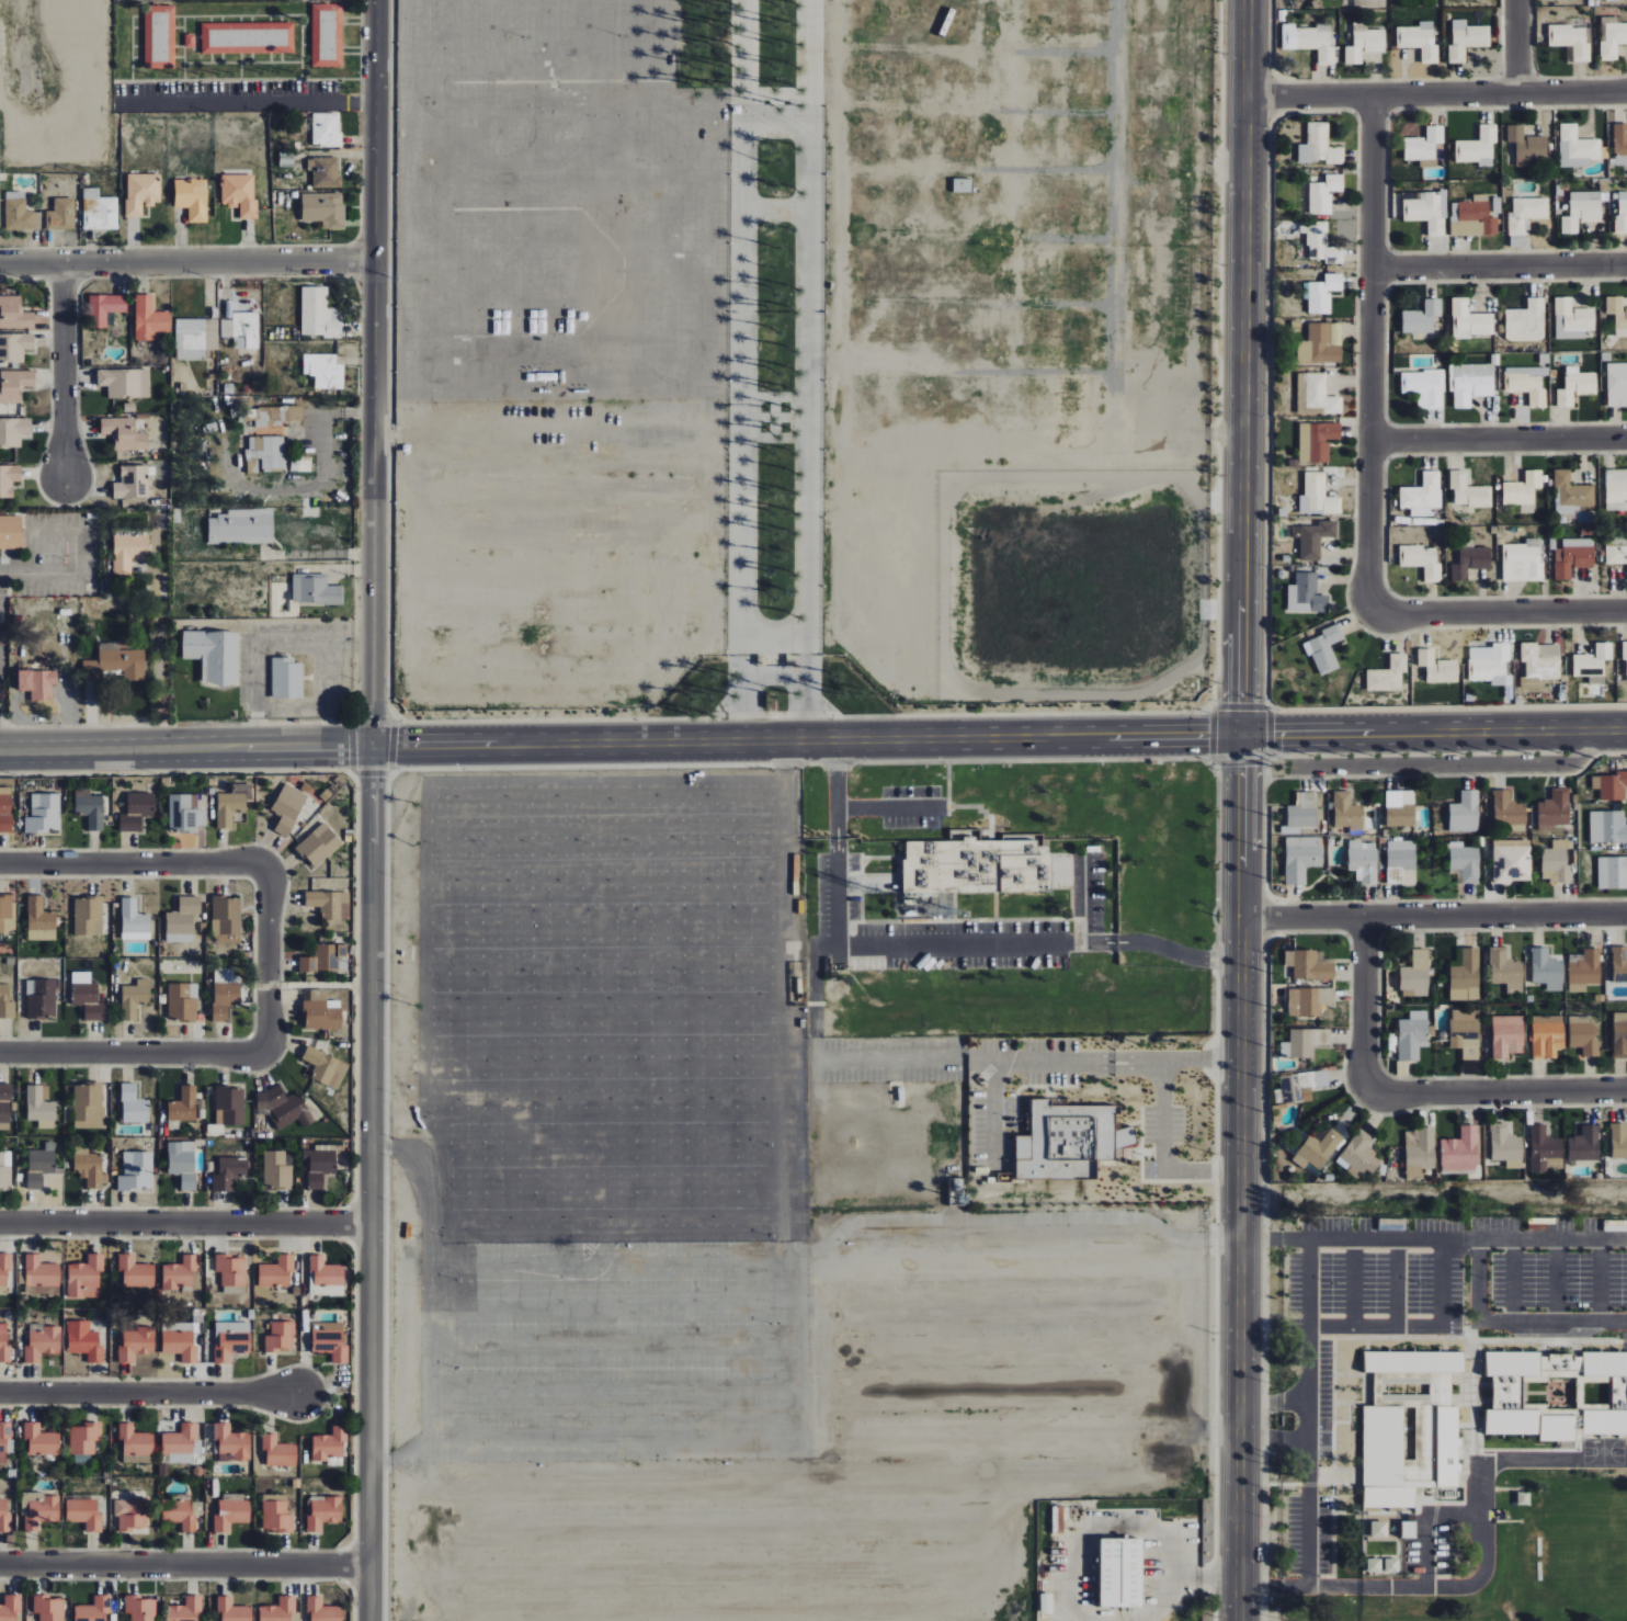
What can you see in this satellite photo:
building: (1612, 0)
building: (327, 35)
building: (159, 36)
building: (248, 37)
building: (1466, 39)
building: (1420, 41)
building: (1571, 41)
building: (1613, 41)
building: (1315, 42)
building: (1364, 43)
road: (1517, 47)
road: (1436, 95)
road: (243, 101)
building: (326, 129)
building: (1620, 144)
building: (1319, 146)
building: (1424, 146)
building: (1527, 146)
building: (1478, 148)
building: (1577, 148)
building: (325, 172)
building: (963, 185)
building: (141, 192)
building: (239, 193)
building: (1324, 193)
building: (192, 197)
building: (325, 209)
building: (99, 211)
building: (1427, 211)
building: (1581, 211)
building: (19, 213)
building: (1622, 213)
building: (60, 214)
building: (1526, 214)
building: (1472, 217)
building: (1321, 242)
road: (186, 259)
road: (1499, 267)
building: (1322, 293)
building: (104, 308)
building: (14, 314)
building: (319, 314)
building: (1617, 315)
building: (1421, 317)
building: (149, 318)
building: (1572, 319)
building: (1469, 320)
building: (1526, 321)
building: (241, 329)
building: (190, 339)
building: (1319, 345)
building: (14, 347)
road: (1370, 353)
road: (1241, 366)
road: (60, 369)
building: (325, 371)
road: (373, 372)
building: (125, 383)
building: (1472, 384)
building: (1527, 384)
building: (14, 385)
building: (1616, 385)
building: (1575, 386)
building: (1424, 387)
building: (275, 418)
road: (319, 421)
building: (13, 431)
road: (516, 432)
building: (124, 433)
road: (1499, 440)
building: (1317, 441)
building: (265, 454)
building: (300, 465)
building: (9, 479)
building: (133, 483)
building: (1616, 489)
building: (1468, 491)
building: (1523, 491)
building: (1570, 494)
building: (1422, 495)
building: (1318, 496)
building: (242, 526)
building: (9, 531)
road: (72, 532)
building: (1315, 539)
building: (1616, 549)
building: (128, 553)
building: (1572, 557)
building: (1422, 560)
building: (1470, 562)
building: (1522, 562)
road: (14, 575)
building: (315, 590)
building: (1306, 594)
road: (1501, 609)
road: (307, 644)
building: (1324, 649)
building: (1625, 650)
building: (214, 655)
building: (1540, 660)
building: (114, 664)
building: (1489, 664)
building: (1593, 664)
building: (1437, 667)
building: (1388, 675)
building: (286, 678)
building: (37, 683)
road: (812, 739)
road: (1442, 762)
building: (1611, 785)
building: (230, 806)
road: (891, 806)
building: (89, 808)
building: (288, 808)
building: (1400, 808)
building: (5, 809)
building: (1507, 809)
building: (1554, 810)
building: (136, 812)
building: (186, 812)
building: (1347, 813)
building: (1465, 813)
building: (44, 814)
building: (1607, 827)
building: (319, 846)
building: (1300, 858)
building: (1363, 860)
building: (1399, 860)
building: (1511, 861)
building: (1557, 862)
building: (1464, 863)
road: (130, 864)
building: (977, 864)
building: (1612, 873)
road: (1082, 895)
building: (329, 904)
building: (7, 915)
building: (88, 916)
road: (1431, 916)
building: (182, 919)
building: (41, 920)
building: (226, 920)
building: (134, 921)
road: (935, 943)
road: (266, 957)
building: (326, 959)
building: (1619, 964)
building: (1309, 965)
building: (1547, 970)
building: (1584, 970)
building: (1505, 971)
building: (1415, 975)
building: (1465, 975)
building: (225, 991)
building: (87, 996)
building: (134, 998)
building: (42, 999)
building: (1309, 1001)
building: (182, 1002)
building: (5, 1004)
road: (1359, 1009)
building: (321, 1012)
building: (1466, 1033)
building: (1584, 1034)
building: (1412, 1035)
building: (1507, 1035)
building: (1619, 1035)
building: (1547, 1036)
building: (1304, 1042)
road: (132, 1052)
road: (1110, 1055)
road: (1122, 1055)
road: (1099, 1058)
road: (1136, 1058)
road: (1190, 1059)
road: (1136, 1065)
building: (322, 1066)
road: (1097, 1066)
road: (1110, 1069)
road: (1123, 1069)
road: (998, 1070)
building: (1298, 1087)
road: (1501, 1090)
building: (89, 1106)
building: (134, 1106)
building: (4, 1107)
building: (41, 1107)
building: (183, 1107)
building: (229, 1107)
building: (284, 1107)
building: (1618, 1141)
building: (1068, 1142)
building: (1584, 1145)
building: (1505, 1146)
road: (1163, 1149)
building: (1317, 1150)
building: (1460, 1150)
building: (1545, 1150)
building: (1419, 1152)
building: (1358, 1155)
building: (182, 1163)
building: (42, 1165)
building: (89, 1167)
building: (5, 1169)
building: (276, 1170)
building: (136, 1171)
building: (229, 1174)
road: (1236, 1177)
road: (368, 1182)
road: (184, 1223)
road: (1431, 1239)
building: (4, 1269)
building: (230, 1270)
building: (136, 1271)
building: (276, 1271)
building: (326, 1271)
building: (41, 1272)
building: (179, 1273)
building: (86, 1277)
road: (1600, 1279)
road: (1478, 1280)
road: (1511, 1280)
road: (1556, 1280)
road: (1441, 1281)
road: (1353, 1282)
road: (1397, 1282)
road: (1467, 1320)
building: (280, 1336)
building: (181, 1339)
building: (230, 1339)
building: (84, 1340)
building: (331, 1340)
building: (43, 1344)
building: (136, 1344)
building: (4, 1346)
parking lot: (618, 1350)
building: (1413, 1361)
building: (1512, 1362)
building: (1605, 1363)
building: (1561, 1365)
building: (1507, 1392)
road: (144, 1395)
road: (1272, 1402)
road: (1307, 1412)
building: (1604, 1421)
building: (1531, 1424)
building: (83, 1438)
building: (4, 1440)
building: (41, 1440)
building: (135, 1440)
building: (231, 1442)
building: (180, 1443)
road: (1272, 1443)
building: (329, 1446)
building: (1447, 1446)
building: (1400, 1447)
building: (277, 1451)
building: (38, 1509)
building: (180, 1511)
building: (84, 1512)
building: (231, 1512)
building: (322, 1512)
building: (130, 1514)
building: (276, 1514)
building: (4, 1517)
road: (1429, 1524)
building: (1378, 1529)
road: (184, 1564)
building: (1374, 1565)
building: (1392, 1566)
road: (1483, 1569)
building: (1120, 1572)
road: (1203, 1579)
building: (9, 1608)
building: (48, 1608)
building: (139, 1608)
road: (1074, 1608)
building: (93, 1609)
building: (185, 1610)
building: (232, 1610)
building: (280, 1610)
building: (322, 1610)

